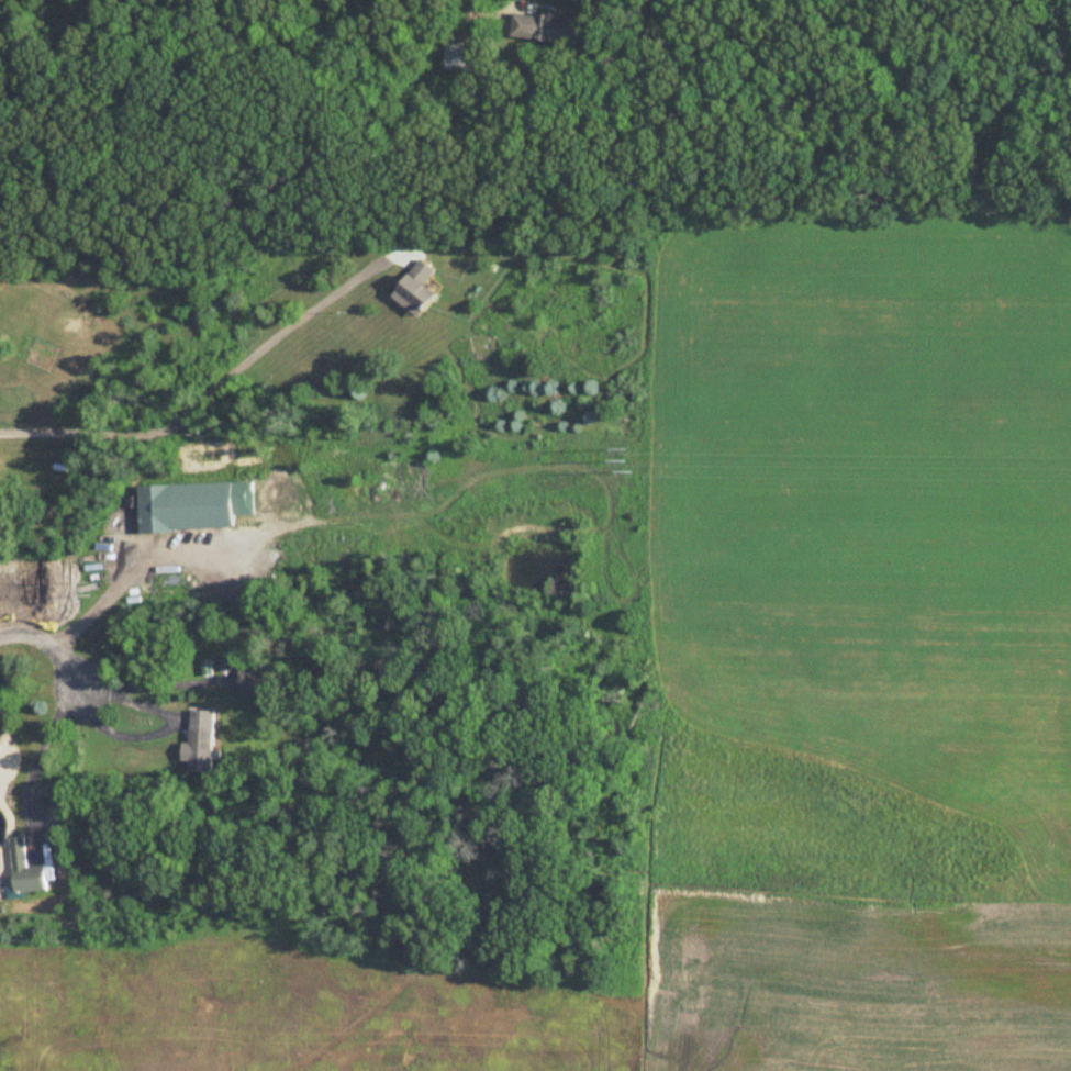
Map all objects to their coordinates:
building: (546, 29)
building: (468, 59)
building: (1, 286)
building: (417, 290)
road: (211, 392)
building: (187, 509)
road: (124, 583)
road: (49, 646)
building: (255, 681)
road: (153, 685)
road: (161, 730)
building: (202, 743)
road: (40, 754)
building: (24, 871)

